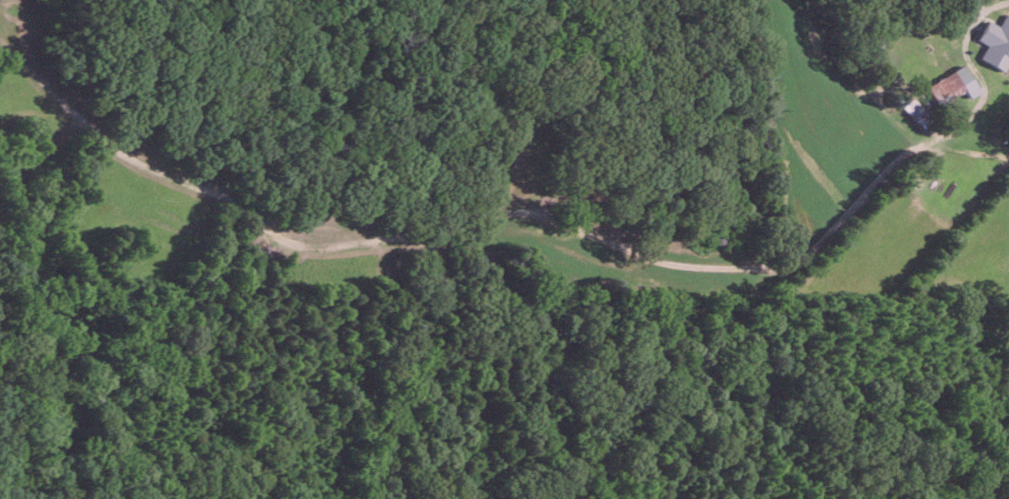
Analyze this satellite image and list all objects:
road: (985, 2)
building: (996, 43)
building: (951, 85)
building: (917, 111)
road: (808, 253)

